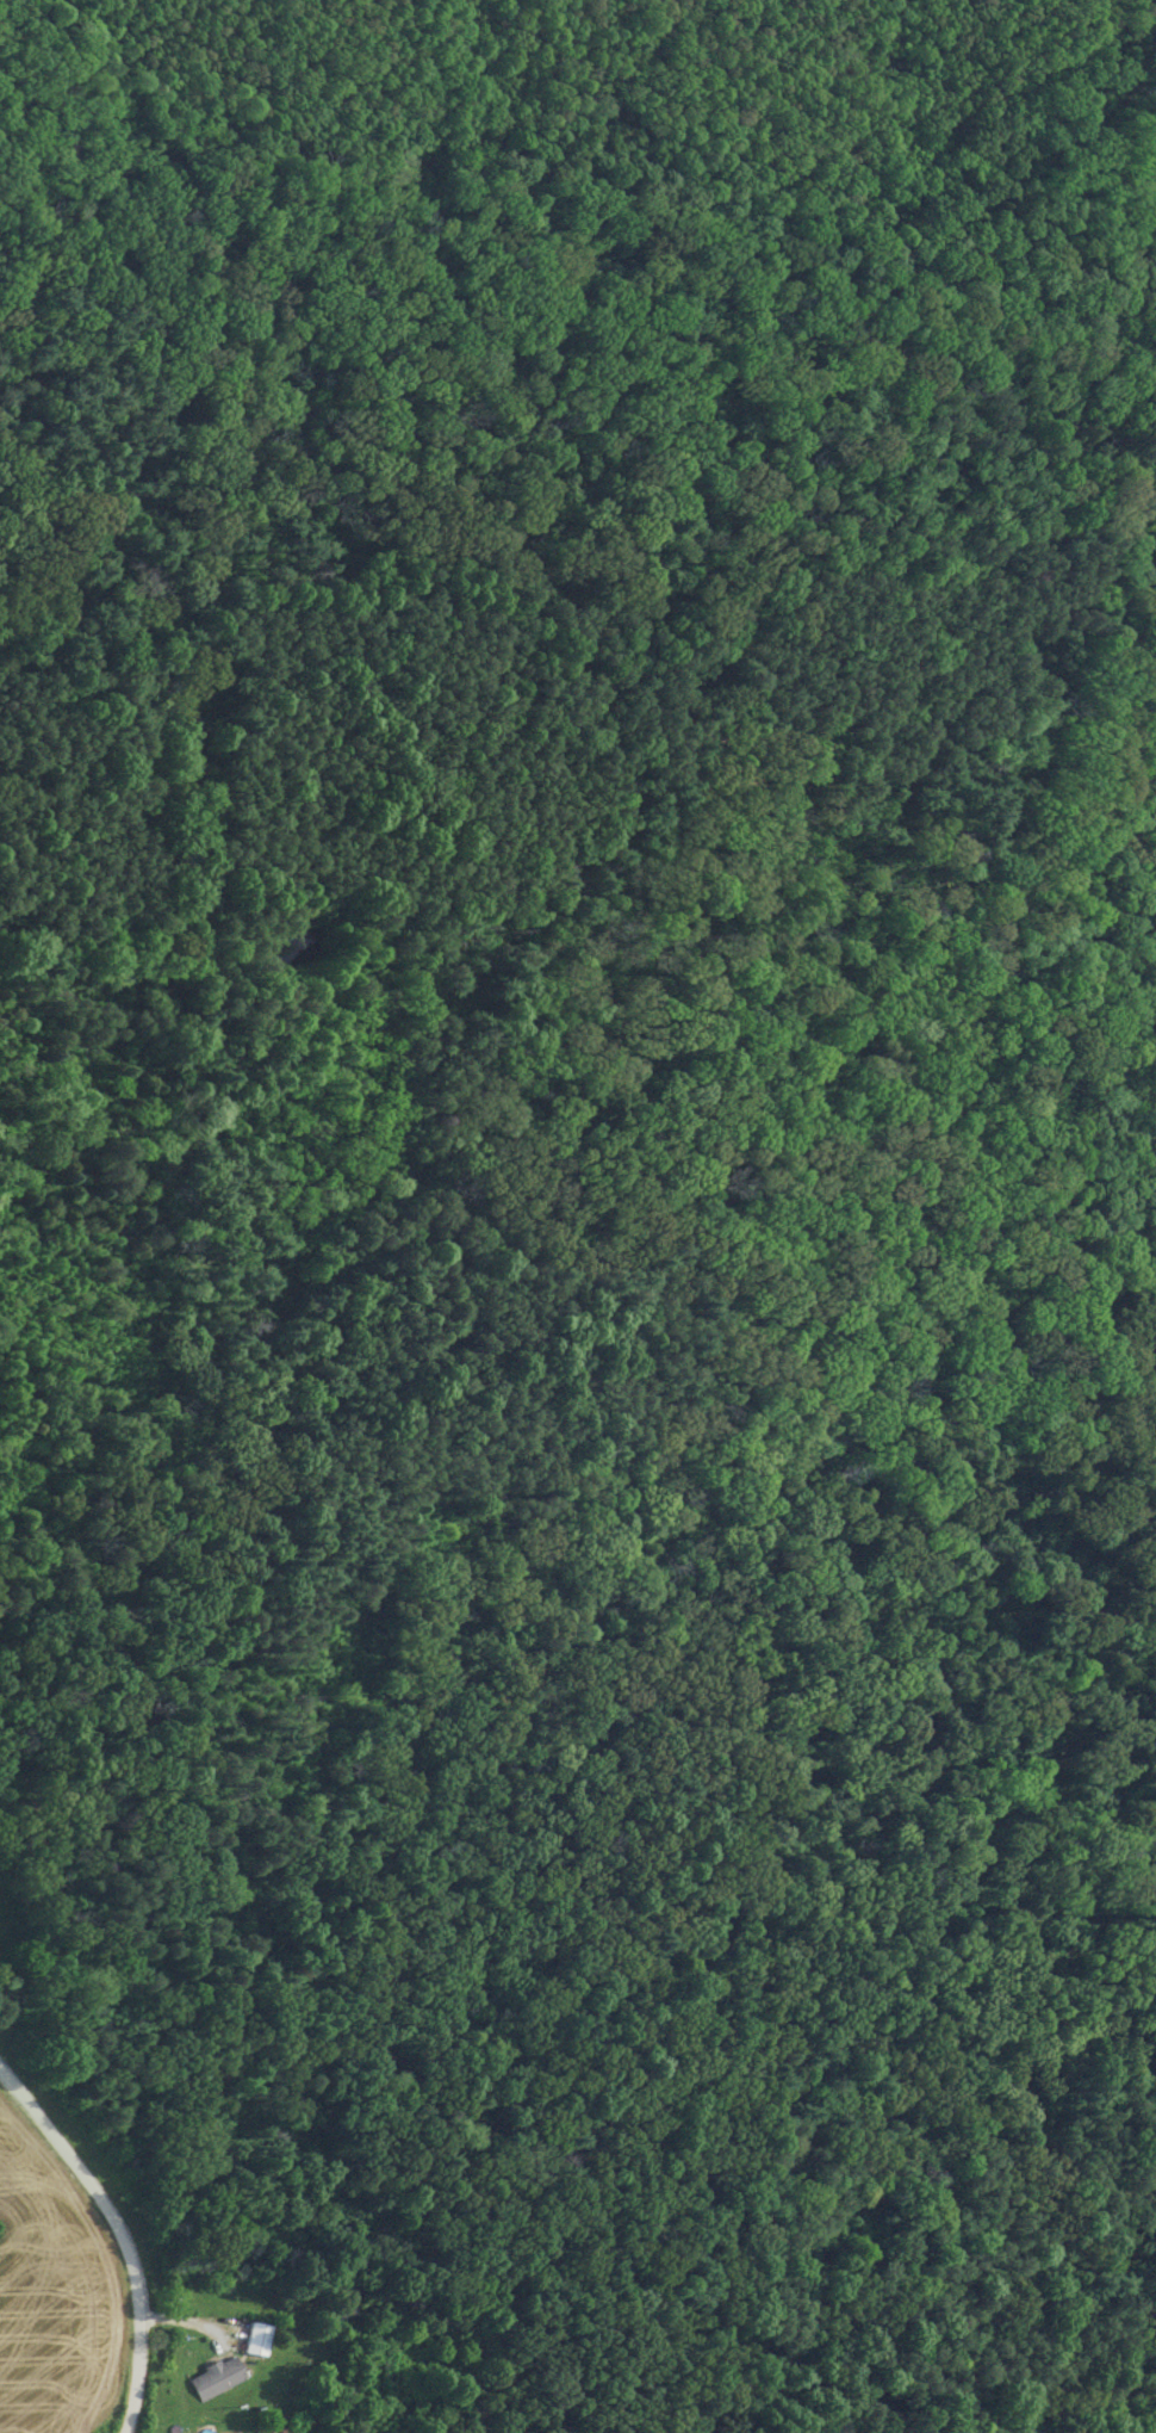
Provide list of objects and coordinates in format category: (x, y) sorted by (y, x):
road: (116, 2231)
building: (255, 2340)
building: (215, 2379)

